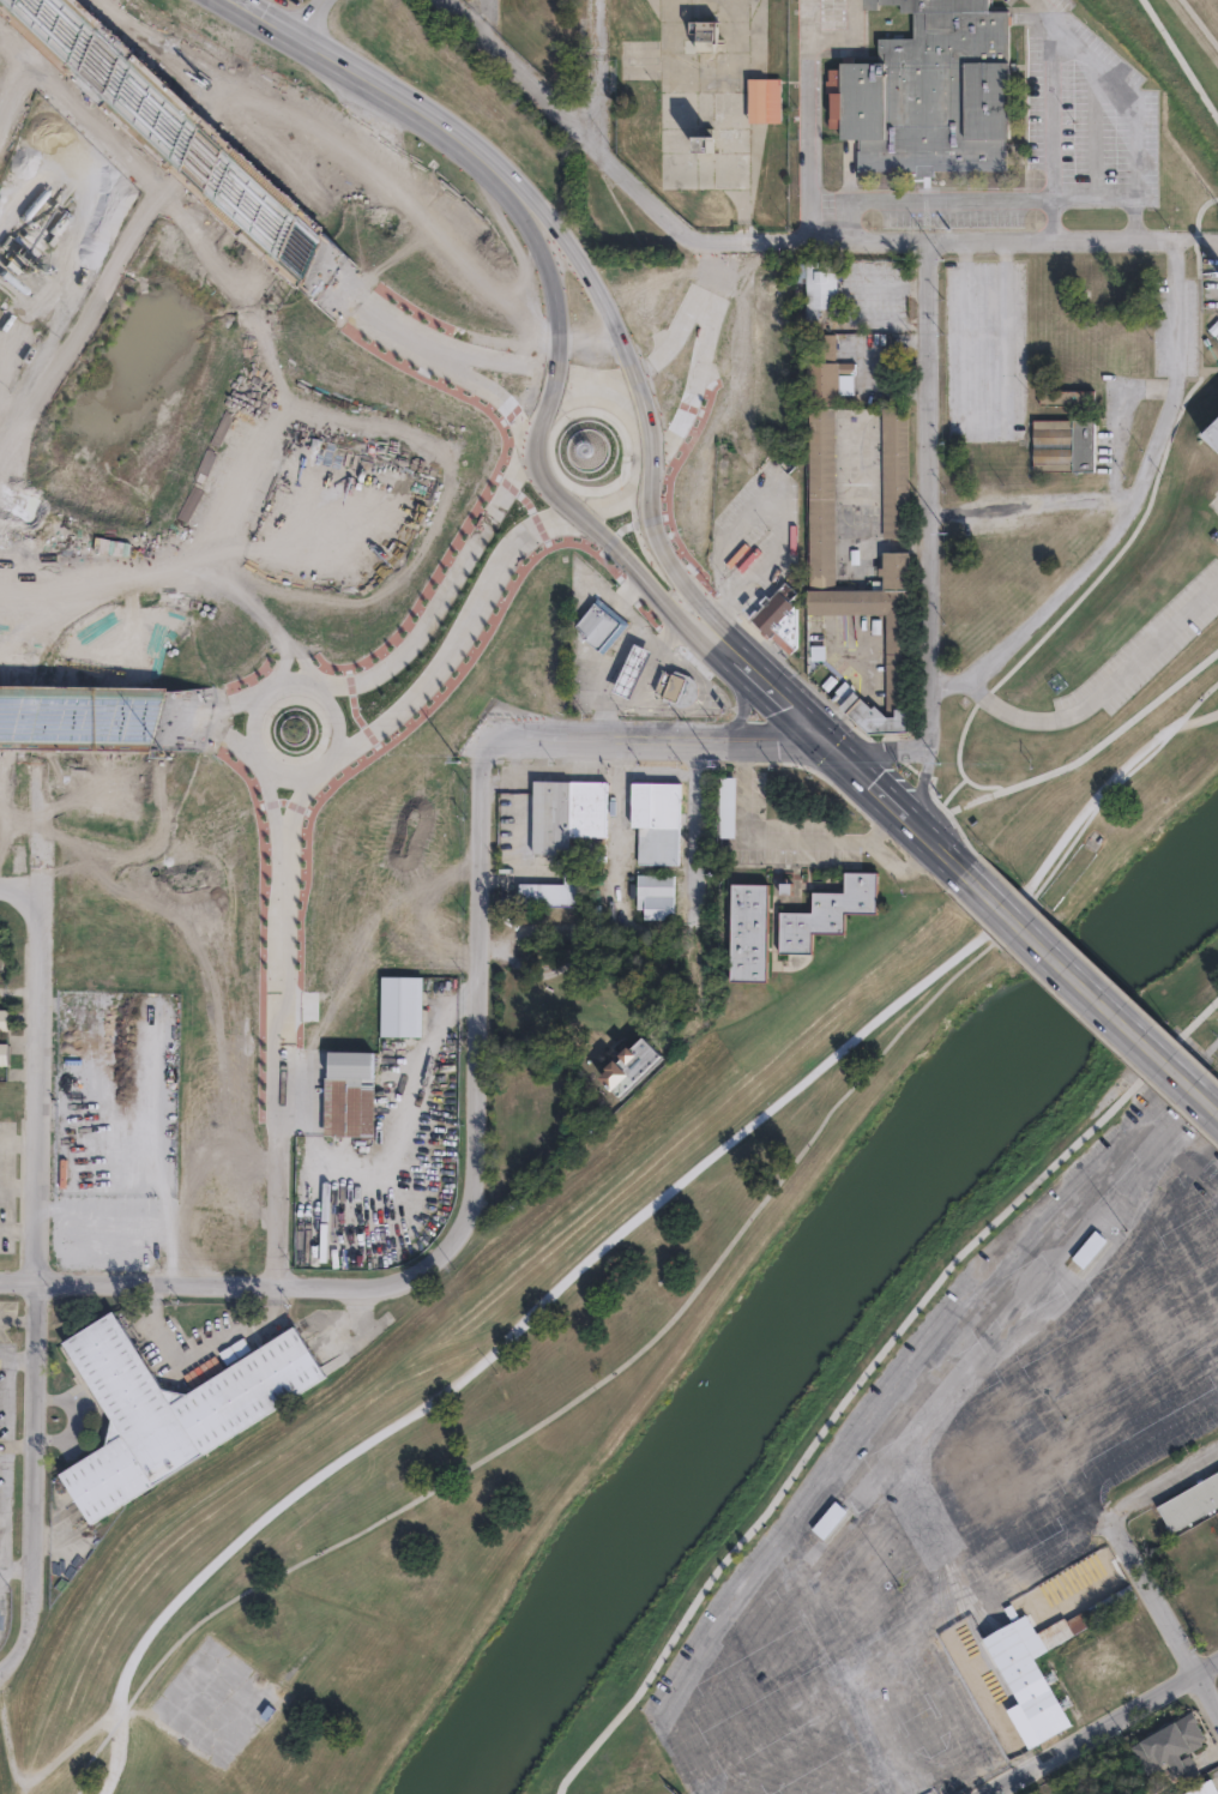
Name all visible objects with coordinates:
road: (1044, 17)
road: (486, 20)
park: (1194, 24)
building: (705, 38)
road: (1068, 47)
building: (643, 49)
road: (593, 77)
building: (935, 95)
building: (767, 102)
road: (173, 128)
building: (705, 139)
road: (973, 199)
road: (695, 239)
road: (989, 241)
road: (714, 276)
building: (821, 290)
road: (363, 306)
road: (703, 330)
building: (1128, 355)
road: (509, 359)
building: (1121, 360)
building: (820, 375)
road: (486, 389)
road: (577, 393)
road: (592, 393)
building: (1067, 397)
building: (1059, 404)
road: (638, 417)
road: (542, 419)
road: (984, 431)
road: (1114, 434)
building: (1210, 444)
building: (1056, 452)
road: (532, 453)
road: (647, 469)
building: (891, 482)
road: (548, 489)
road: (779, 490)
road: (928, 494)
road: (617, 501)
road: (1020, 506)
road: (1129, 508)
road: (505, 553)
road: (635, 571)
road: (671, 571)
building: (890, 580)
road: (441, 597)
building: (777, 622)
building: (598, 631)
road: (712, 645)
road: (281, 663)
road: (300, 663)
building: (634, 673)
building: (673, 687)
road: (641, 688)
road: (774, 696)
road: (1104, 699)
road: (404, 702)
road: (211, 705)
road: (742, 706)
road: (78, 715)
road: (209, 729)
road: (599, 738)
road: (766, 739)
traffic signals: (820, 739)
road: (881, 748)
road: (569, 754)
road: (614, 755)
road: (519, 764)
road: (284, 773)
road: (615, 773)
road: (918, 783)
road: (269, 794)
road: (296, 797)
road: (892, 803)
building: (726, 807)
building: (569, 814)
building: (659, 821)
road: (778, 841)
road: (520, 855)
road: (900, 868)
road: (697, 871)
road: (22, 887)
building: (553, 893)
building: (658, 896)
building: (831, 914)
building: (411, 934)
building: (752, 934)
park: (1026, 971)
road: (478, 982)
road: (1090, 992)
building: (404, 1006)
building: (5, 1019)
road: (1206, 1035)
building: (5, 1054)
road: (279, 1055)
building: (629, 1067)
building: (117, 1095)
building: (345, 1095)
road: (388, 1136)
road: (1177, 1163)
road: (1140, 1172)
road: (1060, 1204)
road: (1169, 1205)
building: (200, 1224)
road: (1138, 1227)
road: (1075, 1235)
road: (609, 1238)
building: (1090, 1248)
railway: (1093, 1258)
road: (43, 1277)
road: (1067, 1280)
road: (245, 1282)
road: (1107, 1289)
river: (797, 1292)
road: (694, 1293)
road: (1017, 1293)
road: (1217, 1319)
road: (1118, 1334)
road: (937, 1337)
road: (1127, 1371)
road: (866, 1377)
road: (940, 1386)
road: (1136, 1405)
building: (175, 1410)
road: (925, 1445)
road: (1129, 1459)
parking lot: (965, 1475)
park: (506, 1482)
road: (1162, 1482)
road: (914, 1492)
building: (1190, 1503)
building: (828, 1519)
road: (933, 1523)
railway: (838, 1527)
road: (955, 1561)
road: (981, 1593)
railway: (948, 1594)
railway: (942, 1596)
railway: (966, 1597)
road: (819, 1606)
road: (1162, 1614)
road: (767, 1615)
railway: (985, 1620)
railway: (970, 1635)
road: (1206, 1668)
road: (7, 1669)
road: (693, 1672)
building: (1026, 1674)
road: (756, 1675)
road: (942, 1690)
road: (905, 1691)
road: (777, 1711)
road: (890, 1729)
road: (928, 1729)
road: (1086, 1733)
building: (1175, 1747)
road: (802, 1748)
helipad: (705, 1753)
road: (945, 1762)
road: (854, 1768)
road: (37, 1777)
road: (904, 1786)
building: (1206, 1788)

